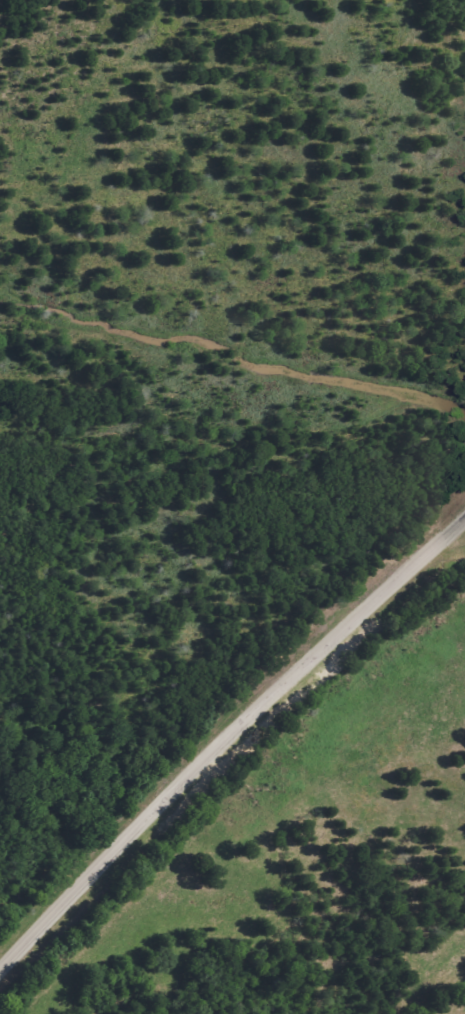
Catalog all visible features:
road: (226, 736)

